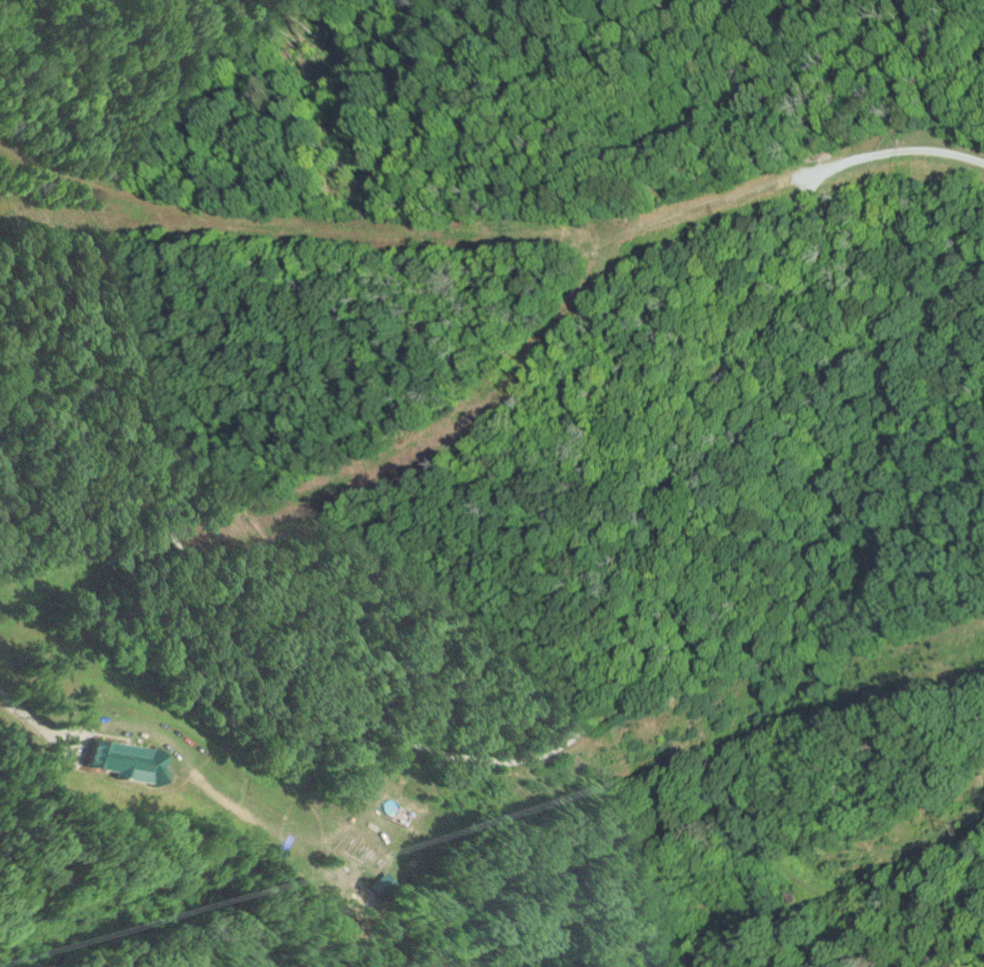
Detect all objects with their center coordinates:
road: (115, 23)
road: (568, 725)
power tower: (959, 827)
power tower: (626, 935)

